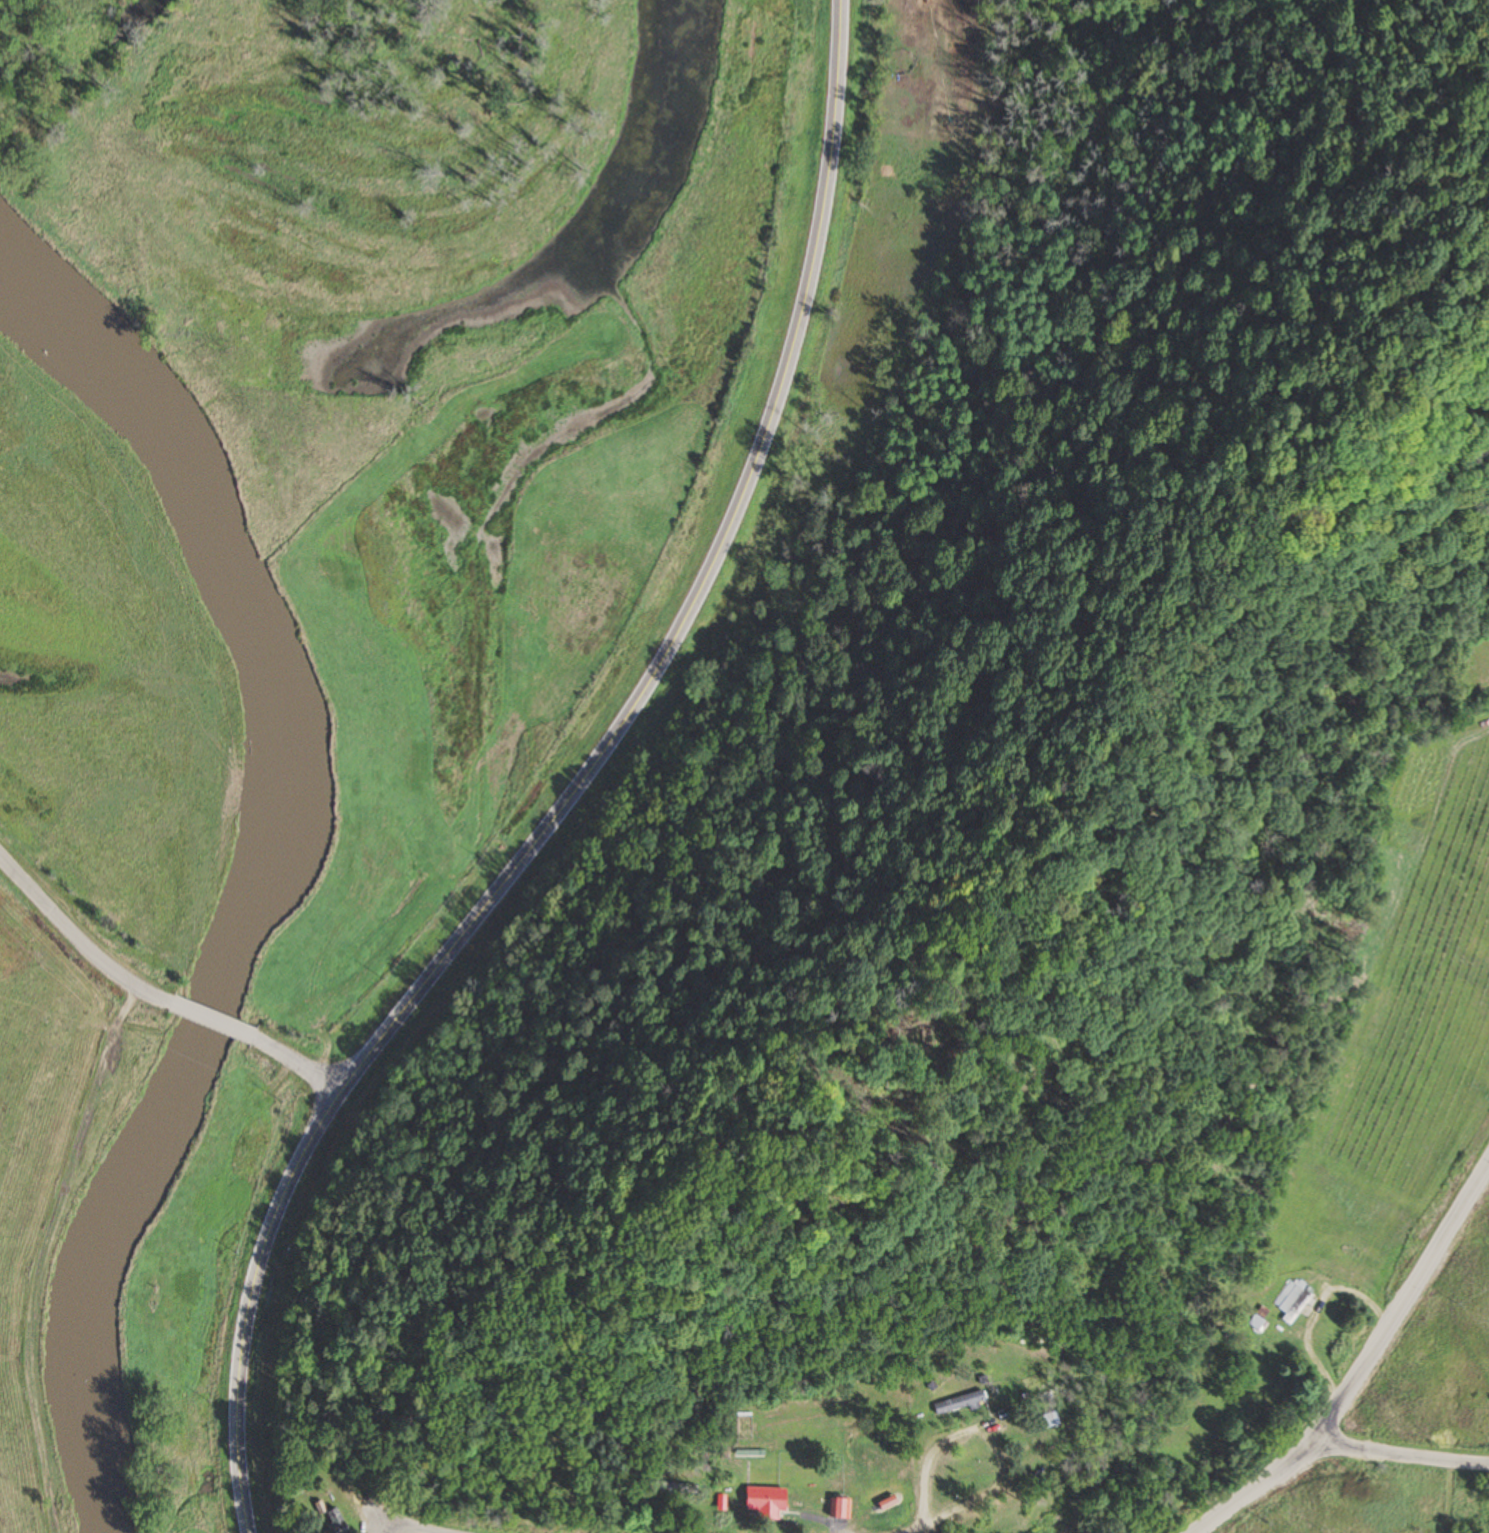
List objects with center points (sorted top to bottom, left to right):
road: (697, 592)
park: (1469, 661)
river: (265, 862)
road: (76, 940)
road: (211, 1020)
road: (297, 1064)
building: (1292, 1298)
road: (251, 1303)
building: (1258, 1318)
road: (1360, 1364)
building: (957, 1402)
building: (1047, 1419)
road: (1397, 1454)
building: (674, 1488)
building: (763, 1504)
building: (837, 1508)
building: (326, 1519)
road: (407, 1527)
road: (381, 1531)

